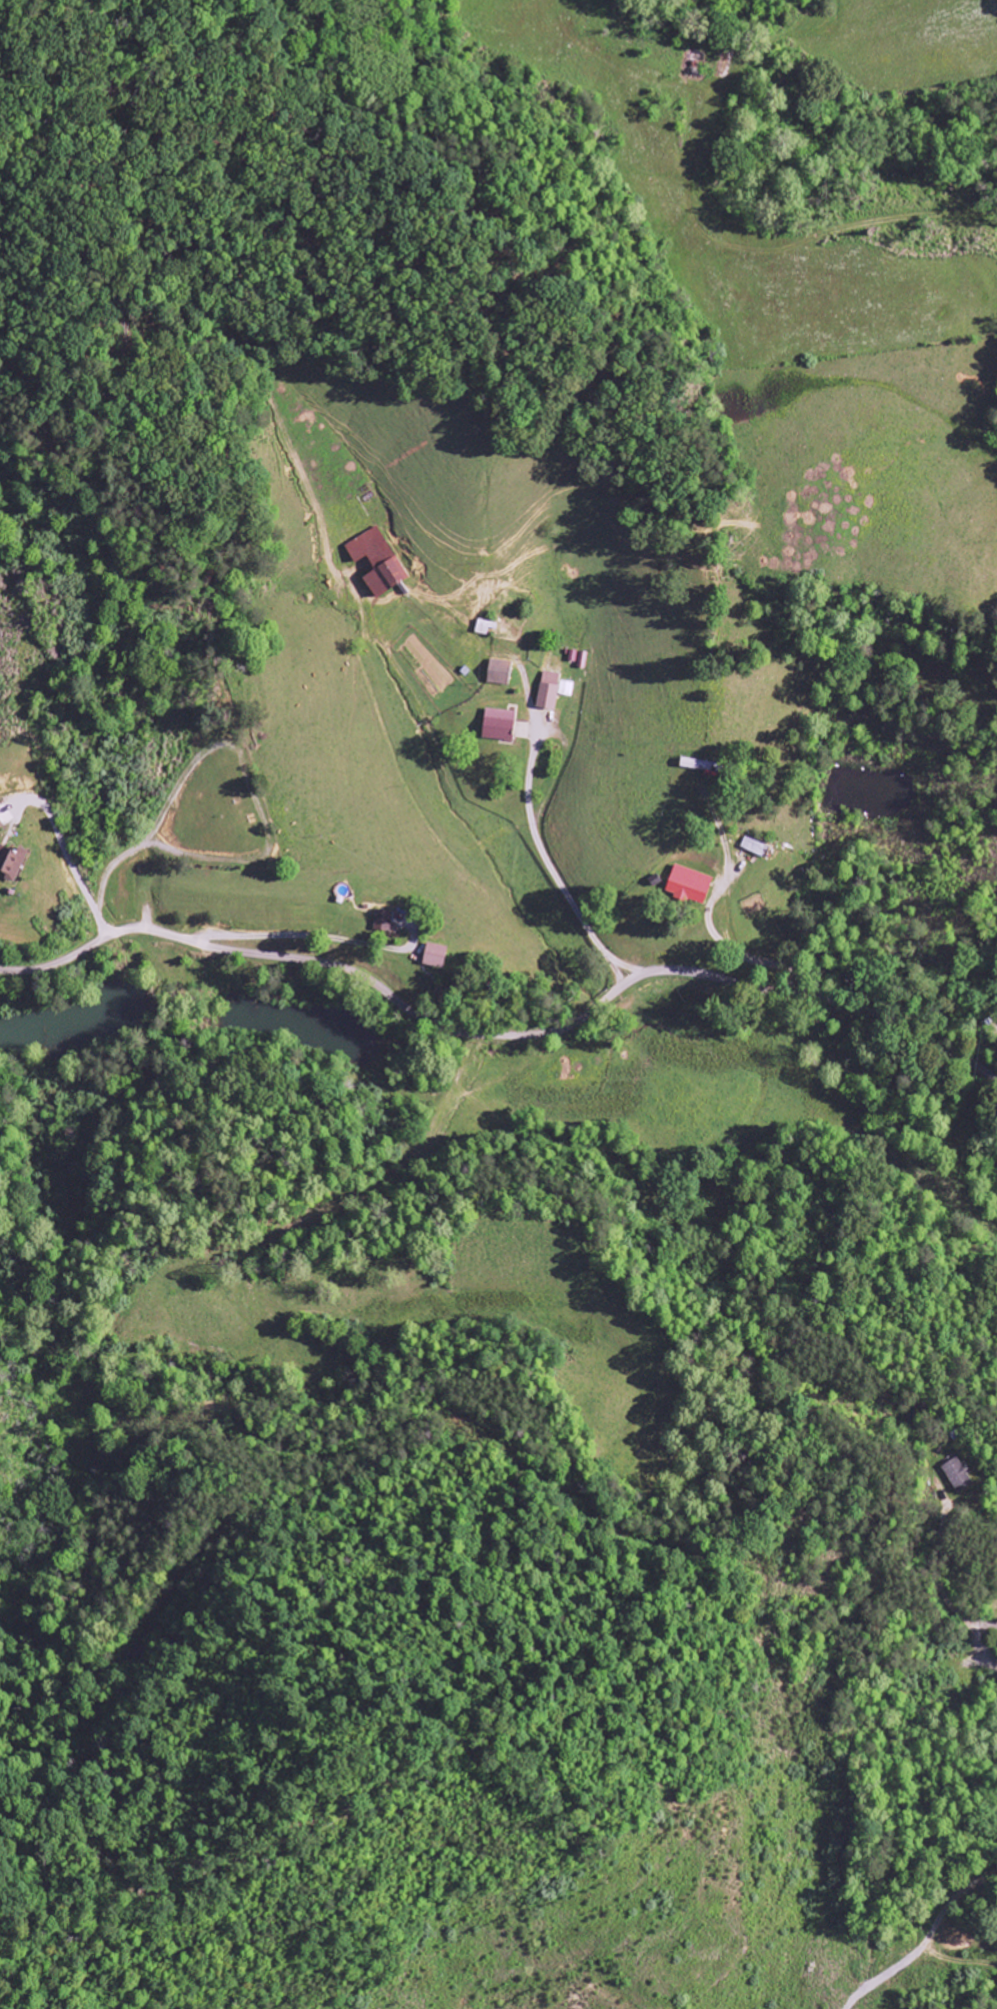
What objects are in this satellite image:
building: (377, 562)
building: (499, 673)
building: (551, 691)
building: (500, 726)
building: (1, 826)
building: (753, 847)
building: (11, 863)
building: (689, 886)
building: (382, 922)
building: (436, 957)
road: (503, 1035)
building: (957, 1476)
road: (942, 1586)

